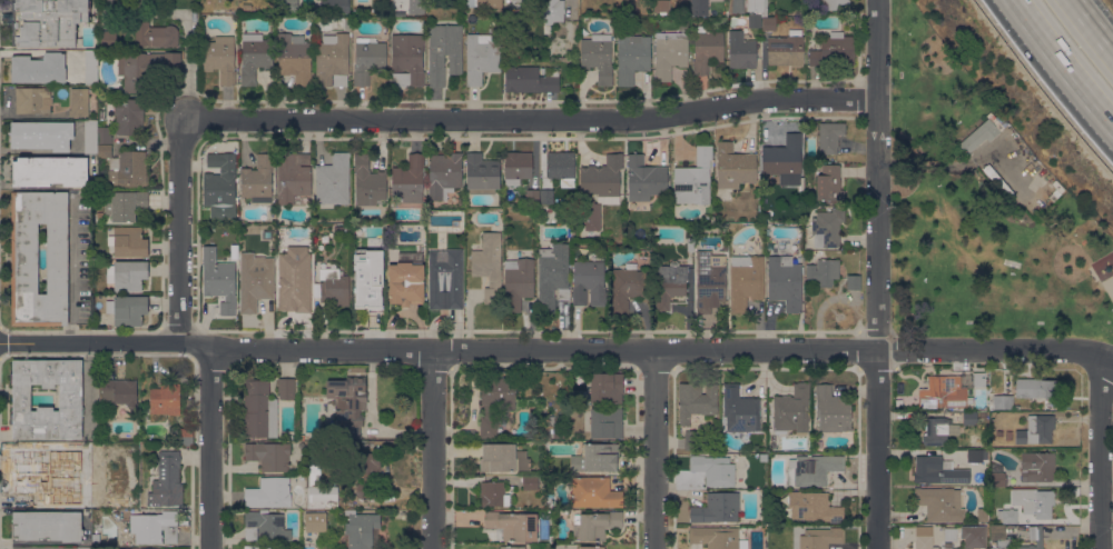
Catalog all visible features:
building: (164, 1)
building: (146, 2)
building: (487, 3)
building: (516, 3)
building: (835, 4)
building: (246, 7)
building: (288, 7)
building: (334, 7)
building: (663, 7)
building: (699, 7)
building: (747, 7)
building: (552, 11)
building: (47, 21)
building: (754, 21)
building: (767, 23)
road: (1092, 26)
road: (1027, 28)
road: (1037, 28)
building: (155, 34)
building: (108, 39)
building: (706, 49)
building: (786, 49)
building: (741, 50)
building: (834, 50)
building: (444, 52)
building: (670, 53)
building: (254, 57)
building: (481, 57)
building: (598, 57)
building: (220, 58)
building: (295, 58)
building: (631, 58)
building: (367, 59)
building: (406, 59)
building: (332, 60)
building: (144, 67)
building: (38, 68)
building: (90, 68)
road: (189, 70)
building: (531, 79)
road: (1085, 89)
building: (32, 100)
building: (79, 102)
building: (128, 117)
road: (530, 121)
building: (41, 134)
building: (981, 134)
building: (104, 136)
building: (90, 137)
building: (829, 137)
building: (784, 158)
building: (516, 167)
building: (561, 167)
building: (733, 167)
building: (125, 169)
building: (49, 171)
building: (481, 173)
building: (444, 174)
building: (293, 178)
building: (410, 178)
building: (257, 179)
building: (602, 179)
building: (644, 179)
building: (693, 179)
building: (334, 180)
building: (220, 181)
building: (998, 181)
building: (367, 182)
building: (829, 183)
building: (532, 196)
building: (546, 197)
building: (127, 203)
building: (592, 216)
park: (975, 216)
building: (827, 228)
road: (180, 231)
building: (267, 233)
building: (127, 241)
building: (690, 244)
building: (24, 258)
building: (489, 264)
building: (824, 271)
road: (875, 273)
building: (127, 274)
building: (552, 274)
building: (294, 277)
building: (445, 279)
building: (219, 280)
building: (255, 280)
building: (367, 280)
building: (709, 280)
building: (746, 280)
building: (589, 281)
building: (854, 281)
building: (518, 282)
building: (785, 282)
building: (405, 283)
building: (670, 285)
building: (334, 287)
building: (628, 288)
building: (563, 293)
building: (128, 309)
road: (551, 350)
road: (1109, 351)
building: (978, 379)
building: (605, 387)
building: (285, 388)
building: (1034, 388)
building: (499, 391)
building: (942, 392)
building: (119, 393)
building: (70, 397)
building: (165, 398)
building: (696, 400)
building: (998, 400)
building: (348, 402)
building: (259, 410)
building: (740, 410)
building: (831, 410)
building: (792, 411)
building: (982, 415)
building: (969, 418)
building: (605, 422)
building: (486, 429)
building: (546, 429)
building: (1036, 429)
building: (938, 430)
building: (559, 433)
building: (999, 433)
building: (1008, 436)
building: (185, 437)
building: (294, 437)
road: (210, 448)
road: (1100, 448)
road: (434, 449)
road: (656, 450)
building: (976, 455)
building: (268, 456)
building: (498, 457)
building: (595, 458)
building: (1037, 466)
building: (713, 469)
building: (812, 469)
building: (106, 471)
building: (937, 471)
building: (31, 473)
building: (76, 476)
building: (370, 476)
building: (997, 479)
building: (165, 480)
building: (530, 482)
building: (268, 492)
building: (593, 492)
building: (319, 493)
building: (494, 493)
building: (1034, 501)
building: (549, 502)
building: (939, 503)
building: (811, 507)
building: (717, 508)
building: (982, 515)
building: (1007, 516)
building: (315, 521)
building: (594, 525)
building: (47, 526)
building: (263, 526)
building: (512, 526)
building: (154, 528)
building: (359, 529)
building: (949, 535)
building: (974, 536)
building: (996, 536)
building: (717, 537)
building: (821, 538)
building: (926, 538)
building: (95, 539)
building: (264, 547)
building: (512, 547)
building: (591, 547)
building: (83, 548)
building: (142, 548)

